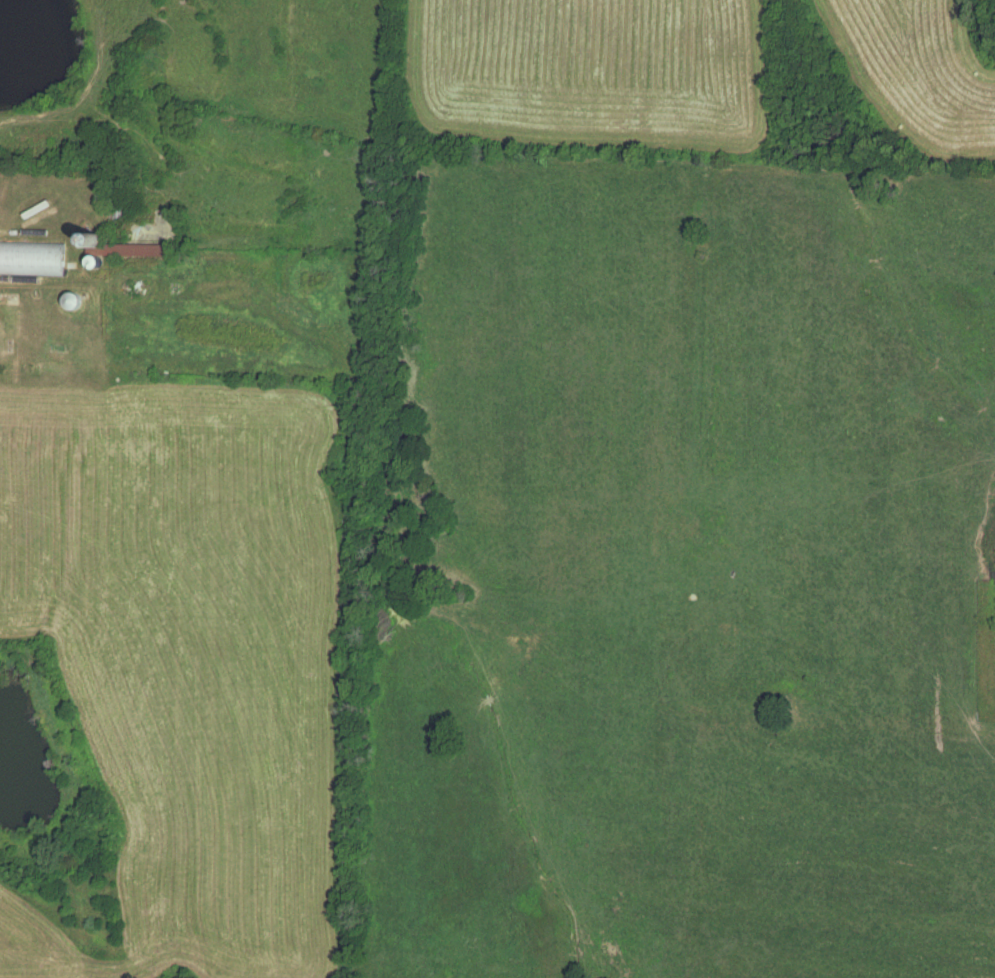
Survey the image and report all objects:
building: (124, 248)
building: (33, 260)
building: (75, 301)
building: (686, 527)

